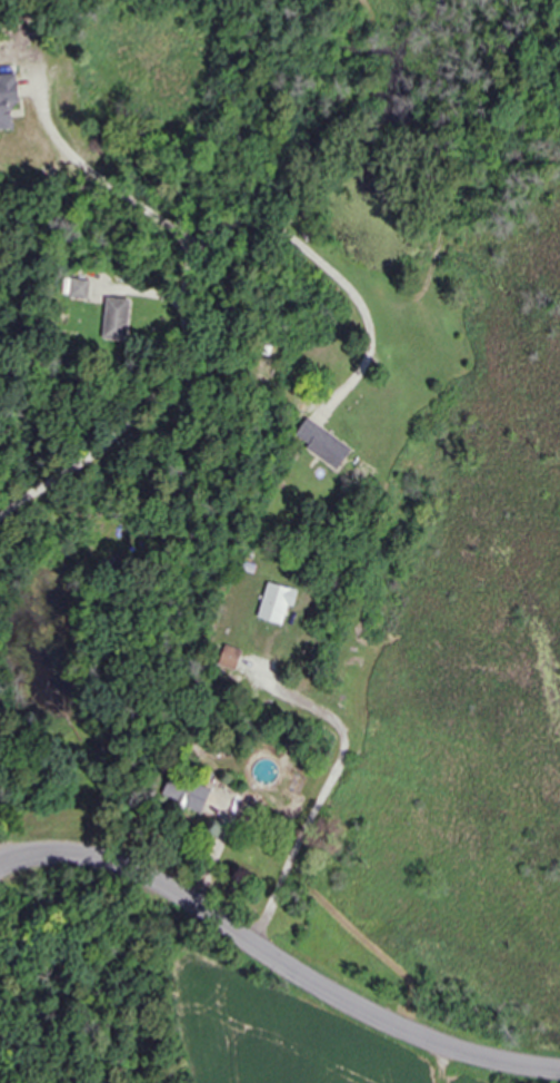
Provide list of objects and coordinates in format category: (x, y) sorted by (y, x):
building: (8, 98)
road: (108, 185)
building: (80, 288)
road: (181, 316)
building: (118, 318)
building: (323, 443)
building: (277, 603)
building: (231, 657)
building: (190, 792)
road: (321, 795)
road: (276, 961)

